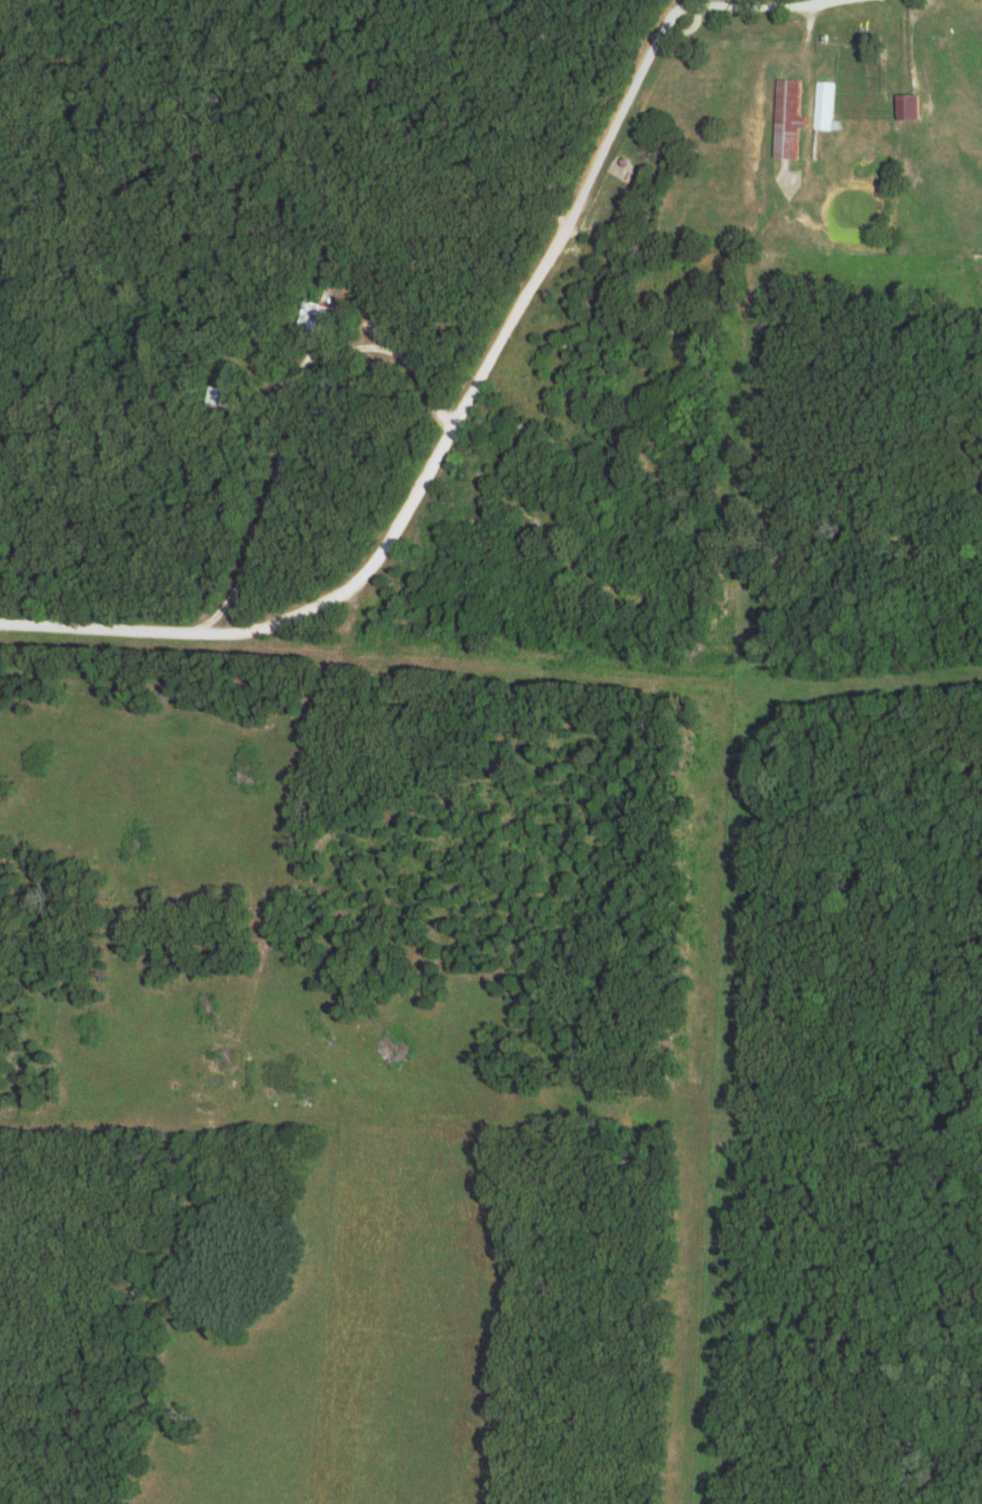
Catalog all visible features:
road: (671, 4)
building: (824, 102)
building: (907, 105)
building: (788, 120)
road: (600, 141)
building: (312, 315)
road: (390, 372)
building: (221, 388)
road: (353, 594)

